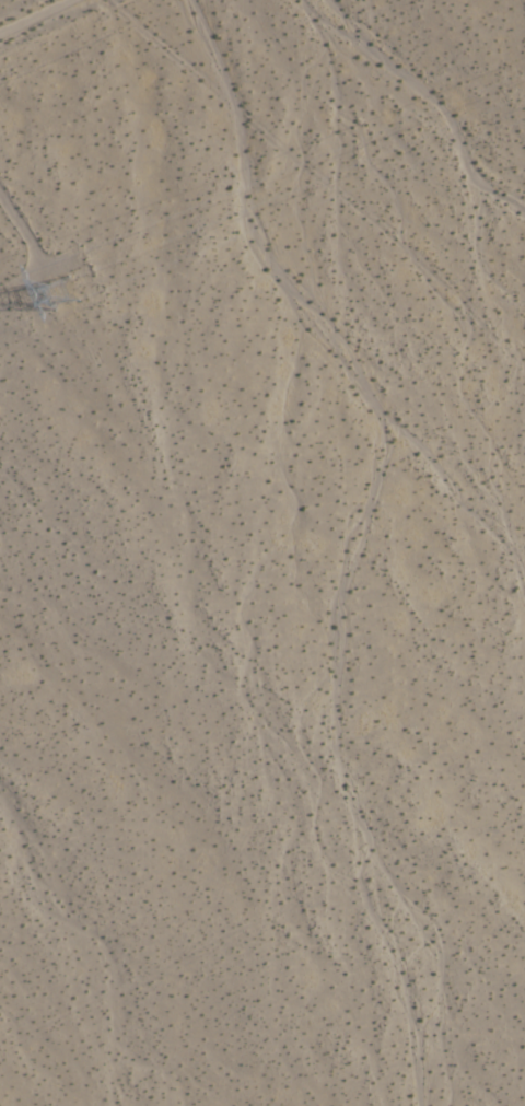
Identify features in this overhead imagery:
road: (26, 11)
power tower: (58, 301)

